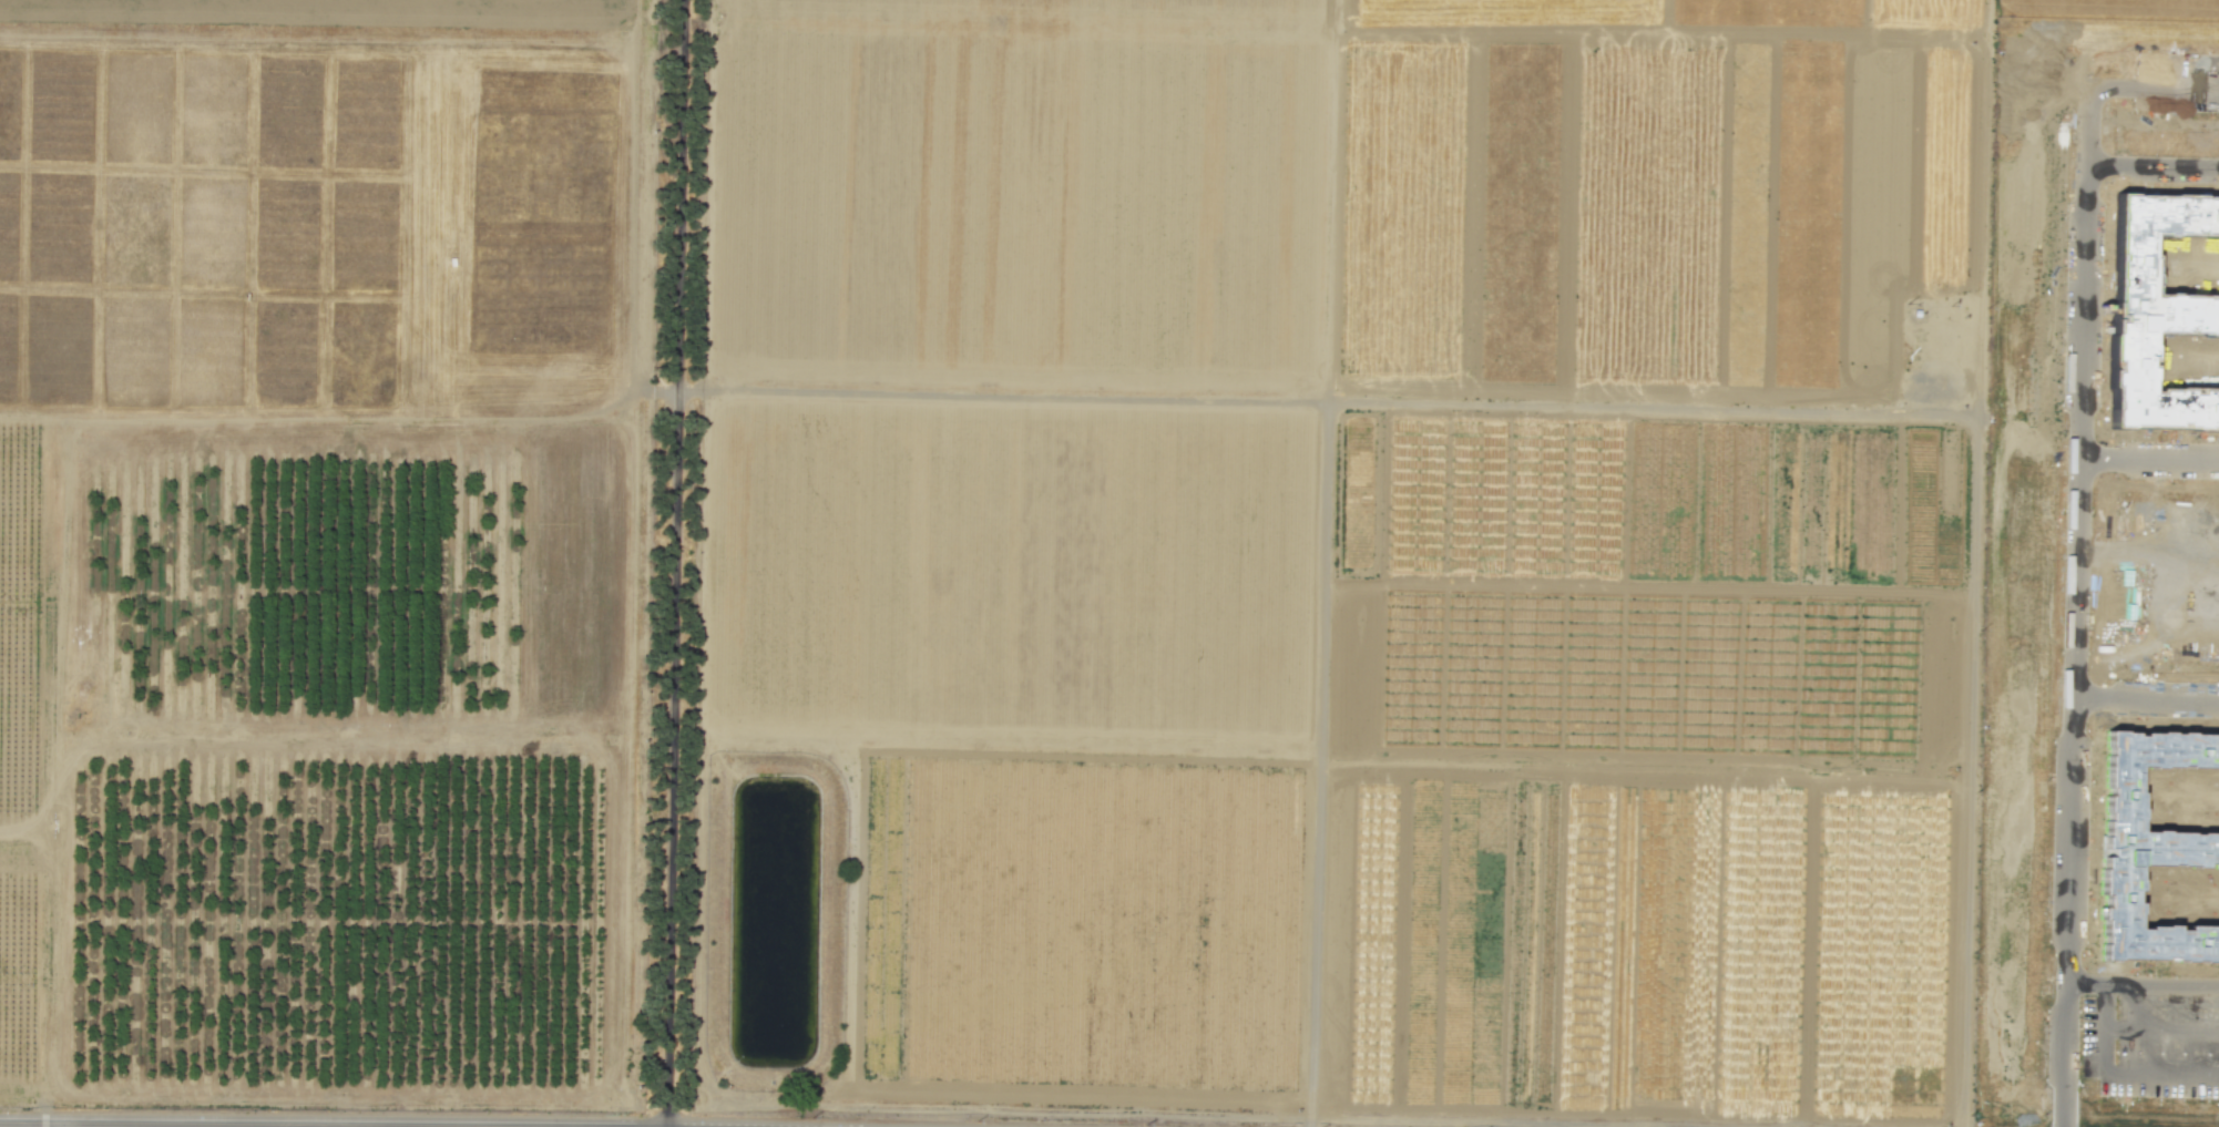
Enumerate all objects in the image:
road: (2162, 86)
road: (1984, 113)
road: (2090, 123)
road: (2155, 168)
road: (669, 389)
road: (1340, 402)
road: (30, 416)
road: (346, 416)
road: (2082, 433)
road: (2150, 461)
road: (627, 554)
road: (1322, 557)
road: (677, 563)
road: (2145, 699)
road: (55, 760)
road: (1972, 773)
road: (701, 848)
road: (2060, 911)
road: (2139, 994)
road: (2106, 1039)
road: (2157, 1042)
road: (2154, 1065)
road: (2140, 1088)
road: (1310, 1121)

